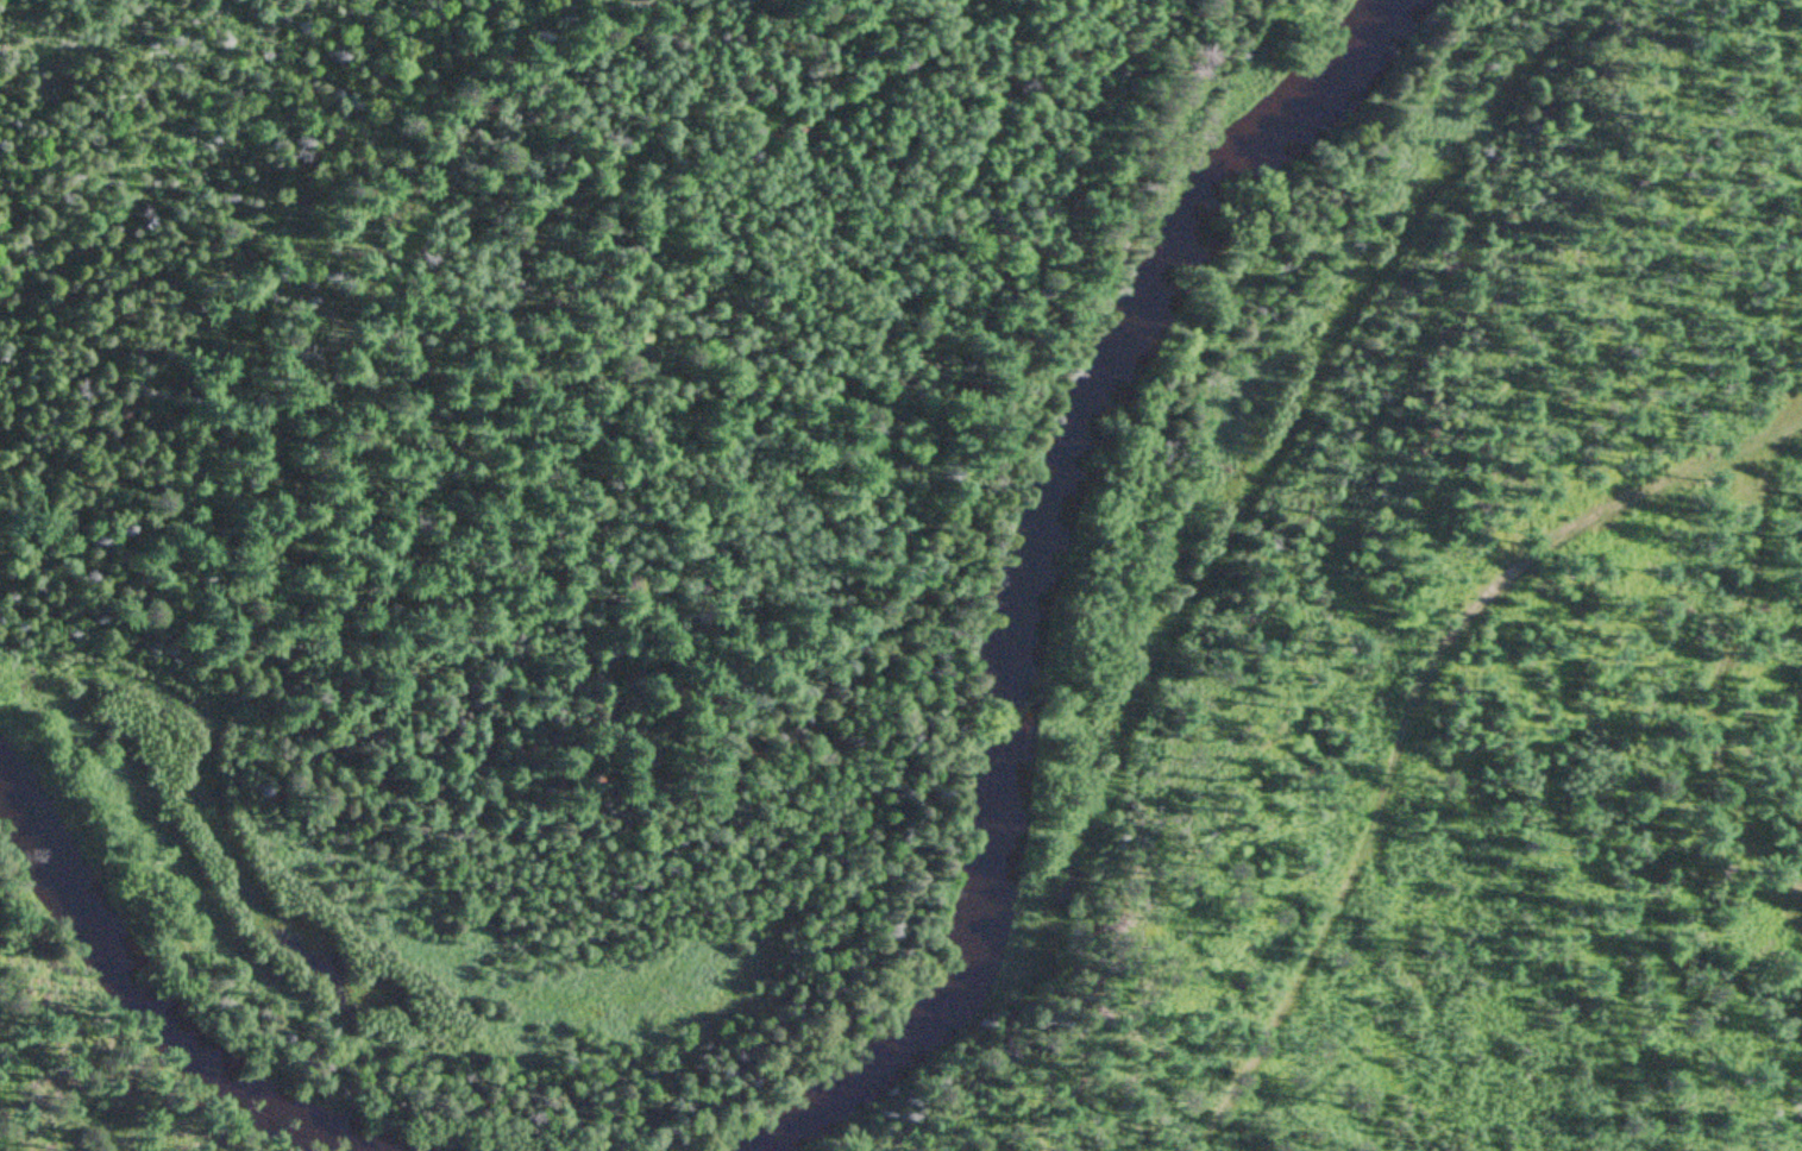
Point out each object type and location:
road: (1752, 574)
river: (1040, 590)
river: (162, 998)

